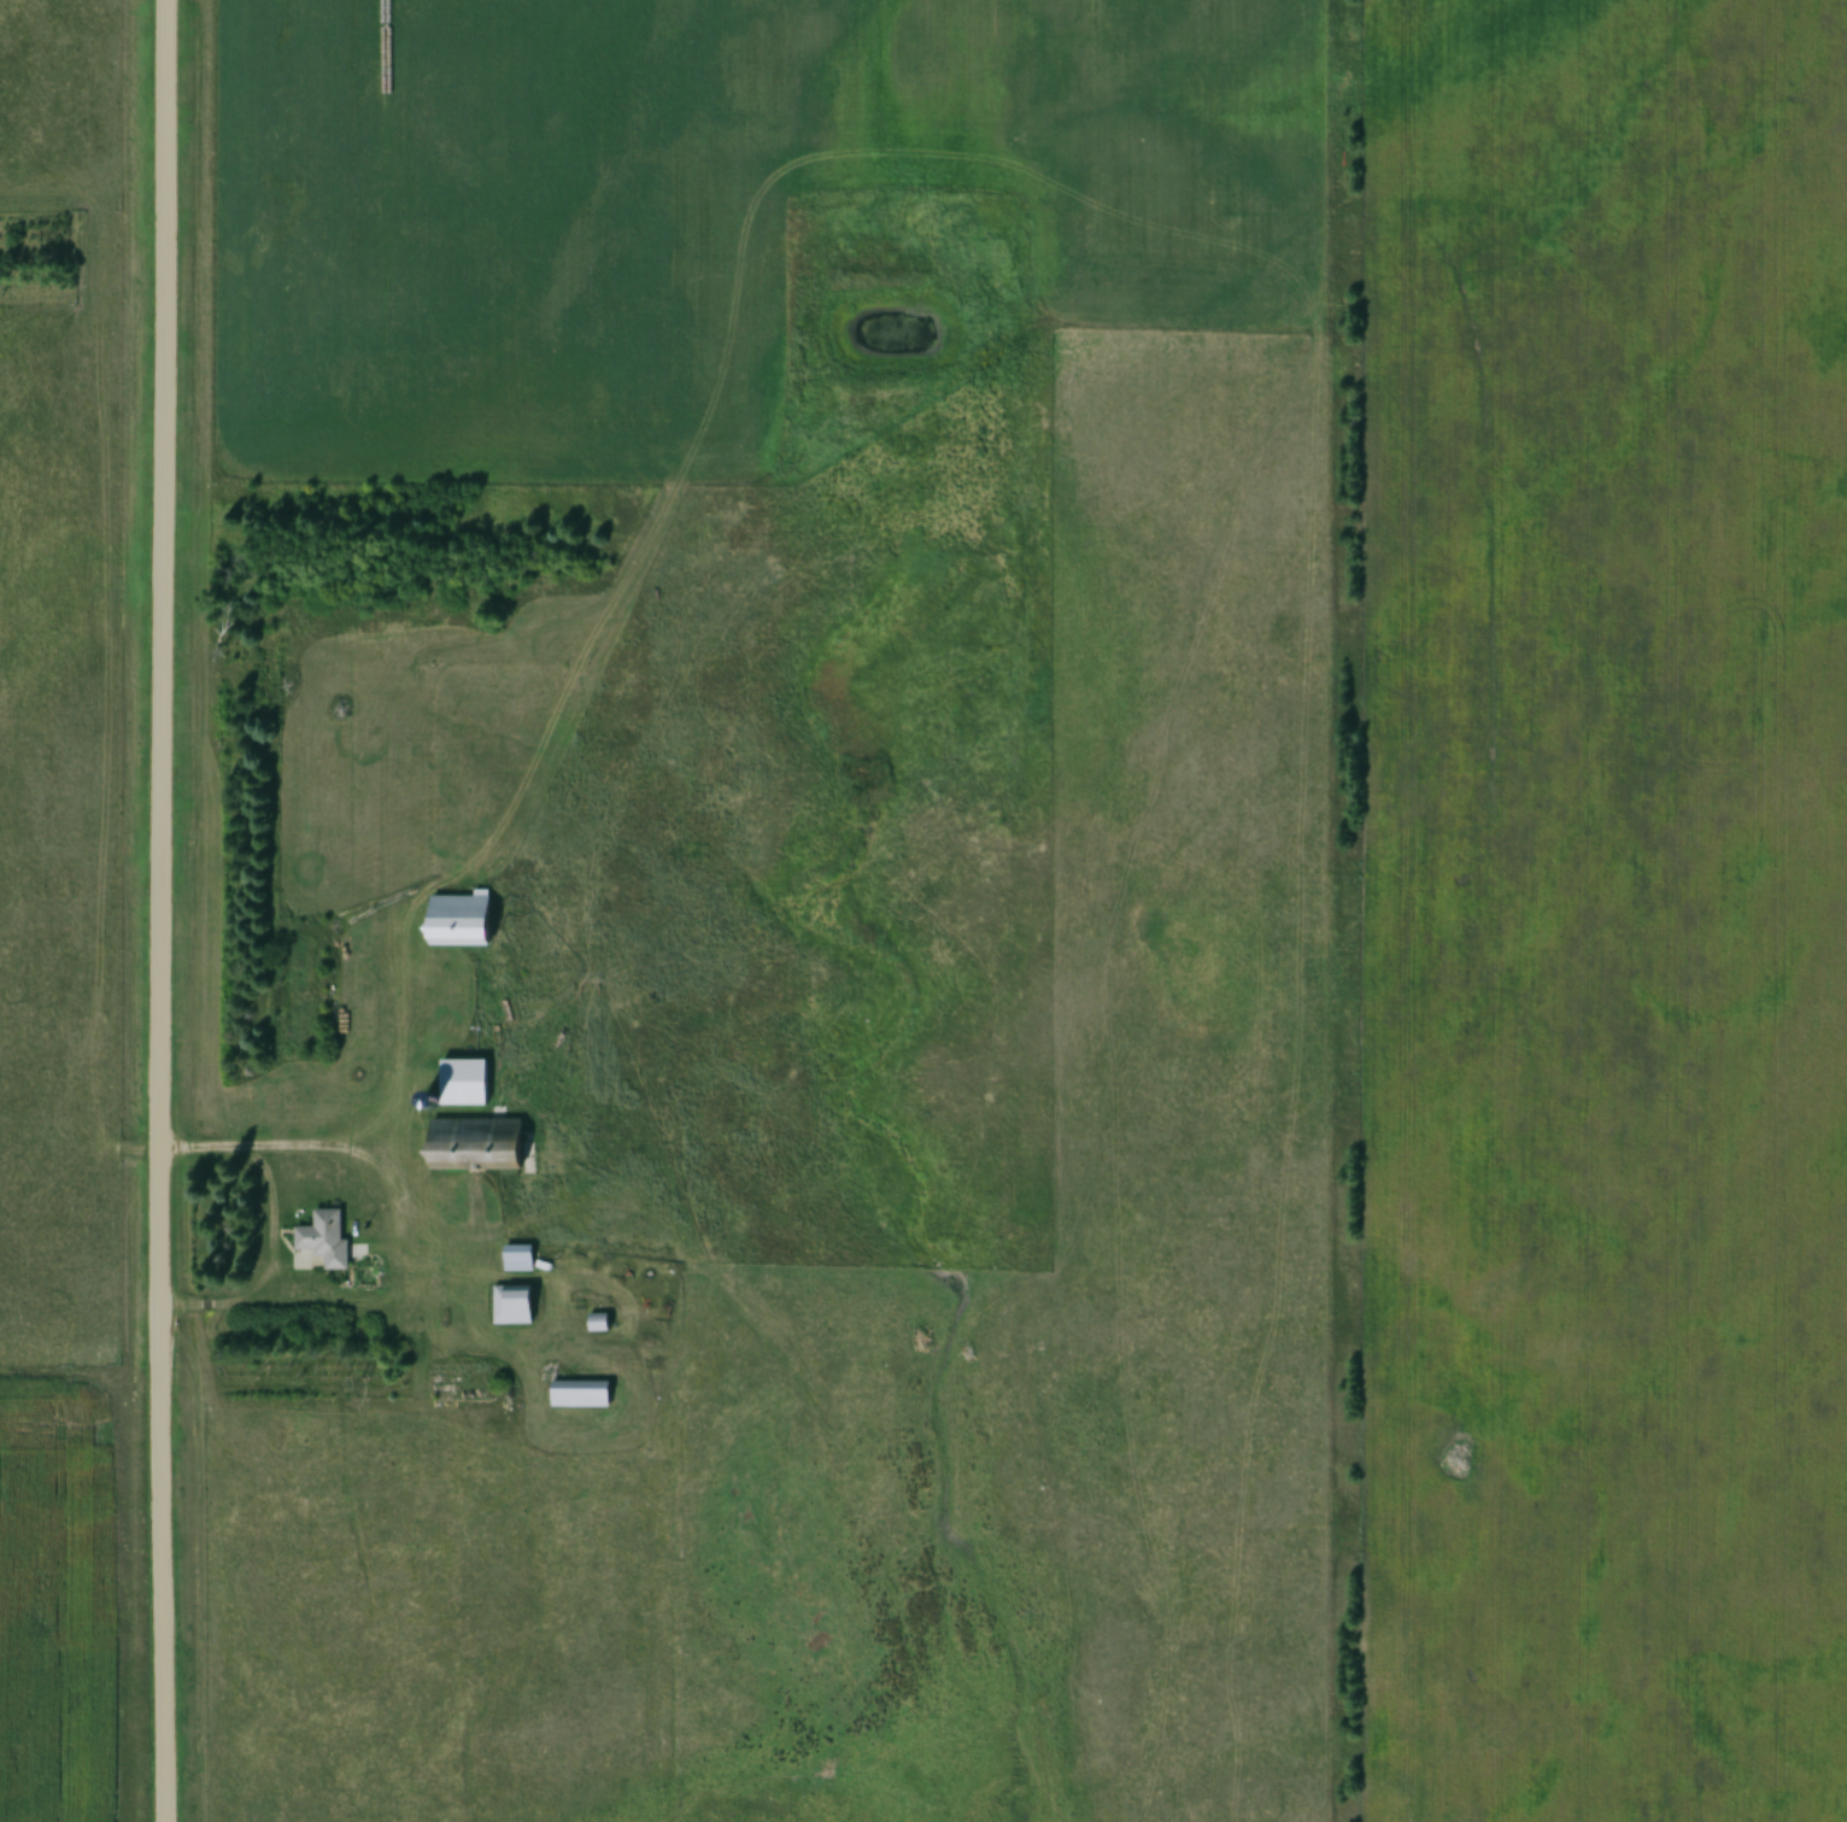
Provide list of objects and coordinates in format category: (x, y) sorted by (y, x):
road: (163, 910)
building: (456, 920)
building: (461, 1082)
building: (428, 1105)
silo: (428, 1105)
building: (474, 1142)
building: (326, 1244)
building: (517, 1256)
building: (512, 1305)
building: (596, 1320)
building: (579, 1394)

